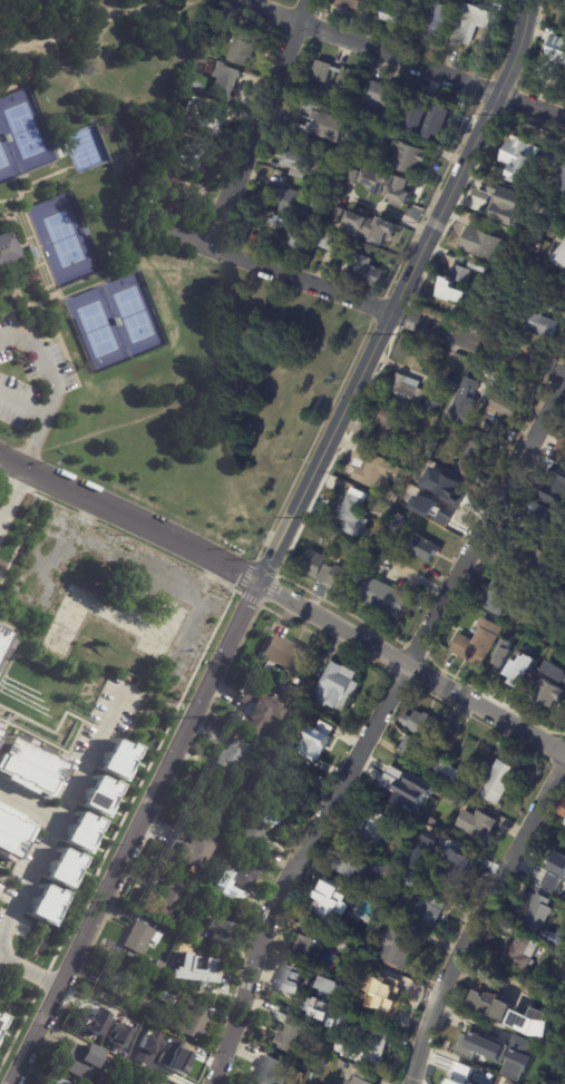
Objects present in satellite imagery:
building: (349, 3)
building: (397, 16)
building: (436, 21)
road: (86, 23)
building: (474, 25)
building: (243, 48)
building: (555, 51)
road: (401, 59)
building: (479, 64)
building: (349, 76)
building: (224, 84)
building: (195, 86)
building: (383, 96)
building: (185, 110)
building: (309, 113)
power tower: (498, 114)
building: (417, 115)
road: (255, 121)
building: (434, 125)
park: (22, 129)
building: (106, 129)
building: (303, 129)
building: (374, 131)
building: (344, 147)
building: (193, 154)
park: (2, 157)
building: (411, 158)
building: (339, 159)
building: (298, 162)
building: (517, 162)
building: (354, 176)
building: (561, 176)
building: (162, 180)
building: (391, 188)
building: (322, 199)
building: (294, 204)
building: (489, 205)
building: (261, 208)
building: (338, 216)
building: (371, 228)
building: (294, 234)
park: (64, 238)
building: (331, 243)
building: (481, 244)
building: (538, 248)
building: (9, 251)
building: (32, 254)
building: (561, 254)
building: (478, 266)
building: (362, 268)
building: (456, 286)
park: (142, 289)
road: (399, 293)
road: (350, 296)
building: (554, 307)
park: (133, 314)
building: (543, 326)
park: (97, 329)
power tower: (392, 334)
parking lot: (31, 380)
building: (449, 385)
road: (53, 389)
building: (410, 393)
road: (22, 404)
building: (504, 407)
building: (462, 410)
building: (389, 429)
building: (508, 437)
building: (431, 447)
building: (559, 449)
building: (473, 463)
building: (373, 469)
building: (557, 485)
road: (11, 491)
building: (449, 504)
road: (130, 517)
power tower: (303, 518)
building: (357, 519)
building: (397, 519)
building: (542, 519)
building: (425, 550)
building: (533, 561)
building: (329, 574)
building: (382, 597)
building: (498, 597)
building: (510, 632)
building: (2, 639)
building: (524, 639)
building: (478, 645)
building: (539, 645)
building: (284, 655)
building: (500, 655)
building: (533, 655)
road: (411, 668)
building: (551, 684)
building: (335, 686)
building: (294, 690)
building: (257, 710)
power tower: (210, 717)
road: (372, 725)
building: (420, 734)
building: (321, 739)
building: (116, 759)
building: (227, 762)
building: (27, 765)
building: (445, 771)
building: (503, 779)
building: (397, 780)
building: (462, 787)
building: (98, 795)
building: (452, 799)
building: (563, 810)
building: (213, 814)
road: (28, 818)
building: (563, 821)
building: (478, 823)
building: (371, 824)
road: (57, 830)
building: (80, 832)
road: (137, 832)
building: (254, 832)
building: (11, 834)
building: (191, 851)
building: (351, 862)
building: (461, 865)
building: (62, 868)
building: (386, 871)
building: (556, 875)
building: (245, 878)
building: (218, 879)
building: (411, 879)
building: (0, 886)
building: (168, 900)
building: (331, 901)
power tower: (118, 902)
building: (45, 905)
building: (431, 912)
building: (538, 912)
road: (477, 916)
building: (388, 919)
building: (363, 932)
building: (329, 934)
building: (220, 935)
building: (556, 937)
building: (142, 938)
building: (305, 946)
building: (397, 948)
building: (342, 949)
building: (520, 953)
building: (192, 970)
road: (30, 976)
building: (123, 977)
building: (300, 980)
building: (532, 980)
building: (332, 986)
building: (390, 993)
building: (159, 995)
building: (169, 996)
building: (324, 996)
building: (144, 1003)
building: (321, 1009)
building: (517, 1016)
building: (1, 1020)
building: (194, 1022)
building: (342, 1023)
building: (91, 1031)
building: (292, 1035)
building: (117, 1036)
building: (468, 1041)
building: (517, 1042)
building: (556, 1044)
building: (146, 1048)
building: (367, 1048)
building: (491, 1049)
building: (199, 1055)
building: (174, 1058)
building: (79, 1063)
building: (121, 1063)
building: (273, 1072)
building: (462, 1075)
building: (363, 1078)
building: (60, 1082)
building: (147, 1083)
building: (165, 1083)

